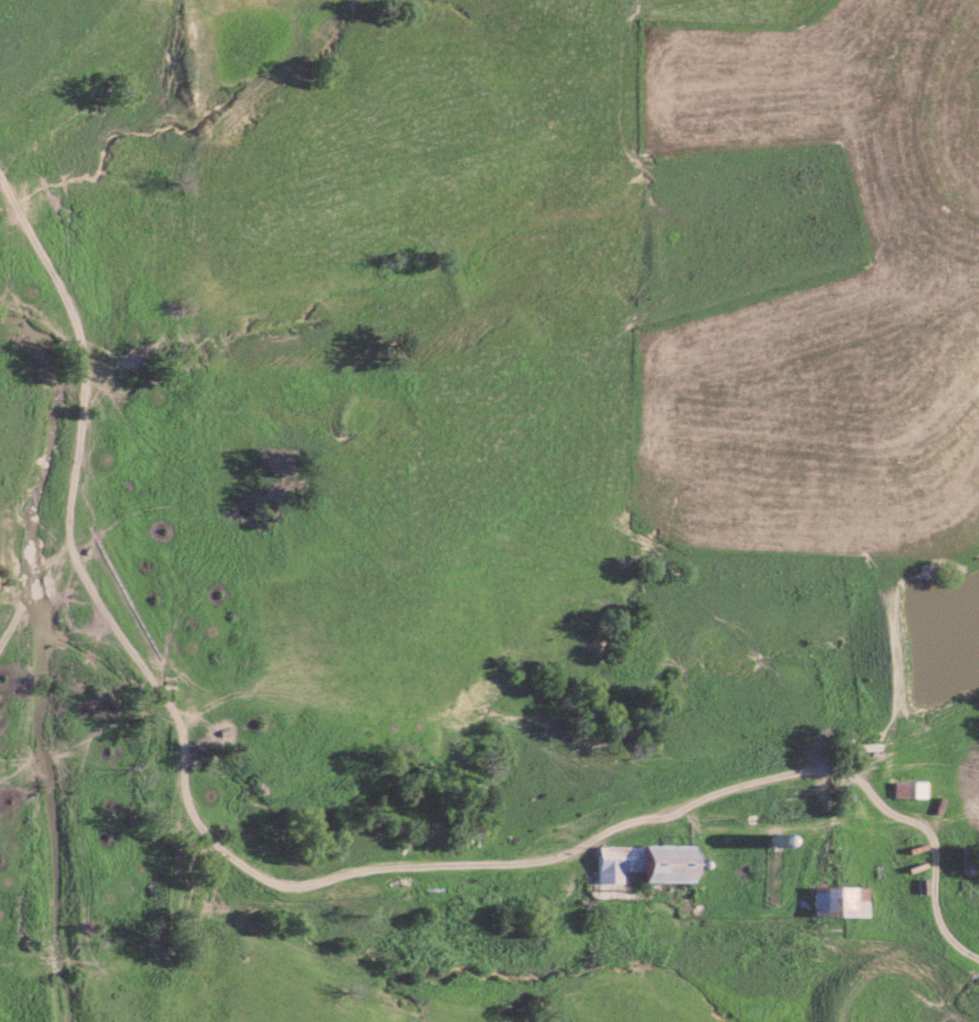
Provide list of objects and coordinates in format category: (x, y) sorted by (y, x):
road: (831, 767)
building: (910, 788)
building: (670, 863)

